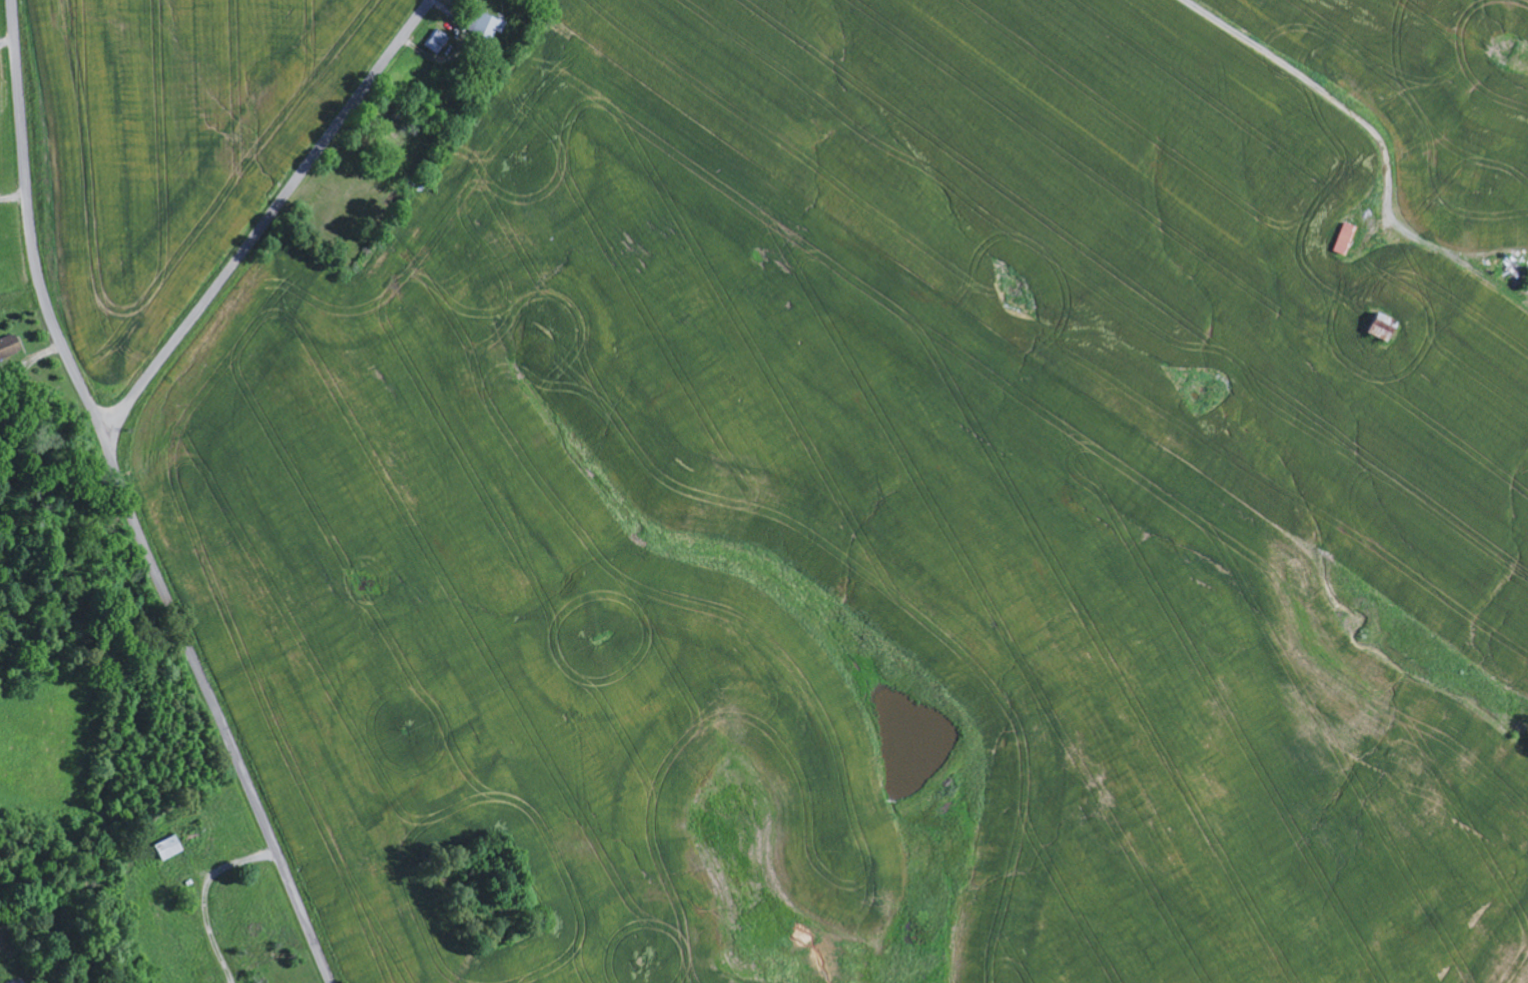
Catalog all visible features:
building: (485, 26)
building: (434, 43)
road: (1358, 118)
road: (268, 215)
building: (1342, 240)
building: (1379, 329)
building: (9, 354)
road: (131, 502)
building: (167, 849)
park: (490, 886)

